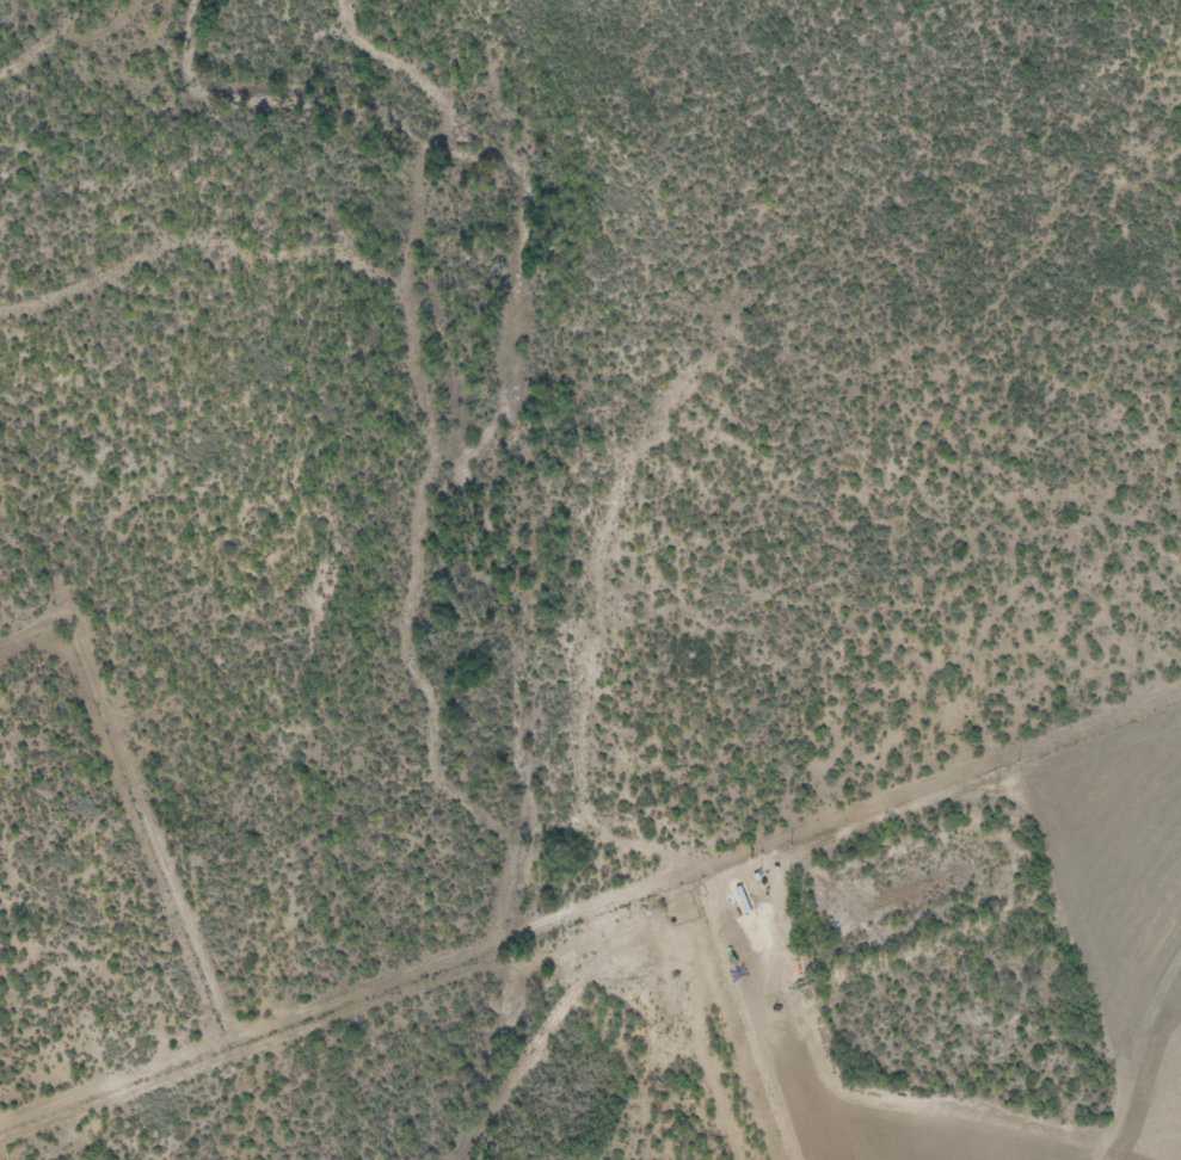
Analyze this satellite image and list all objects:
road: (673, 997)

